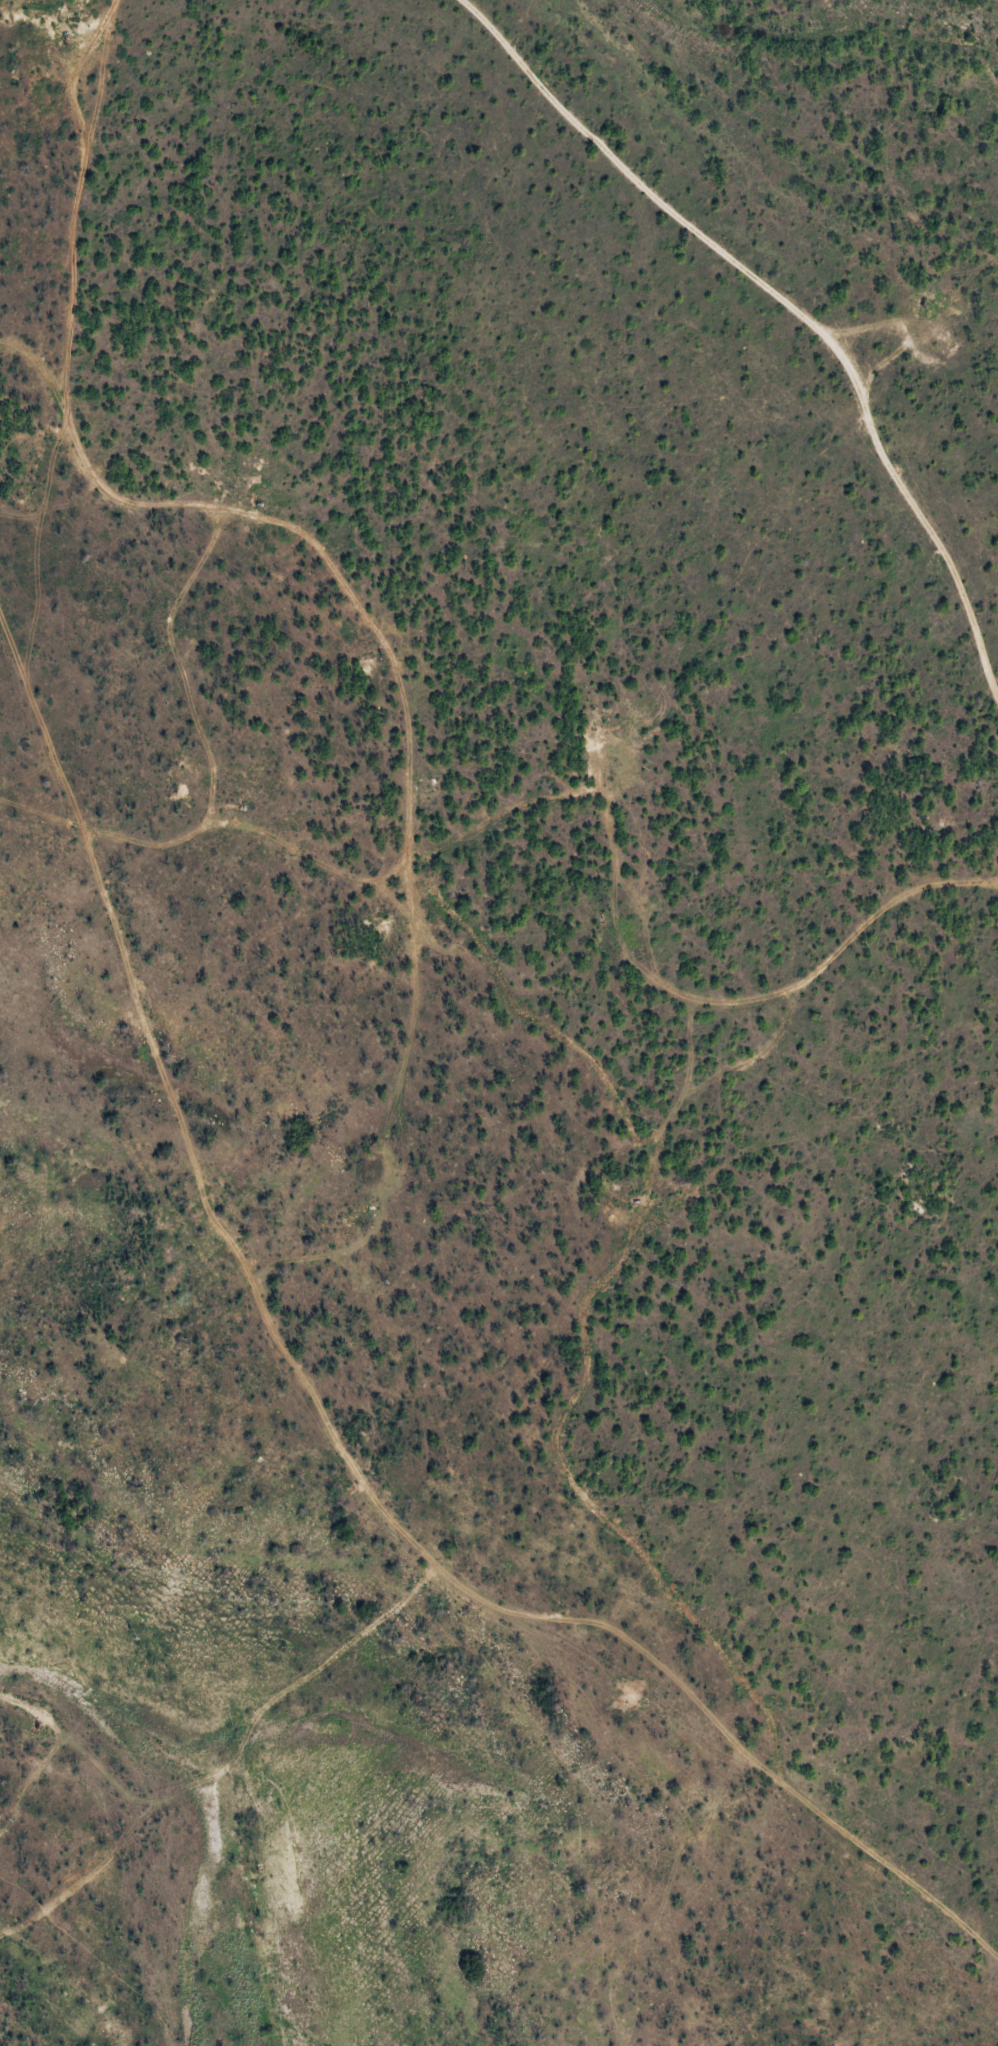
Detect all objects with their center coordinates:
road: (784, 311)
road: (364, 1483)

